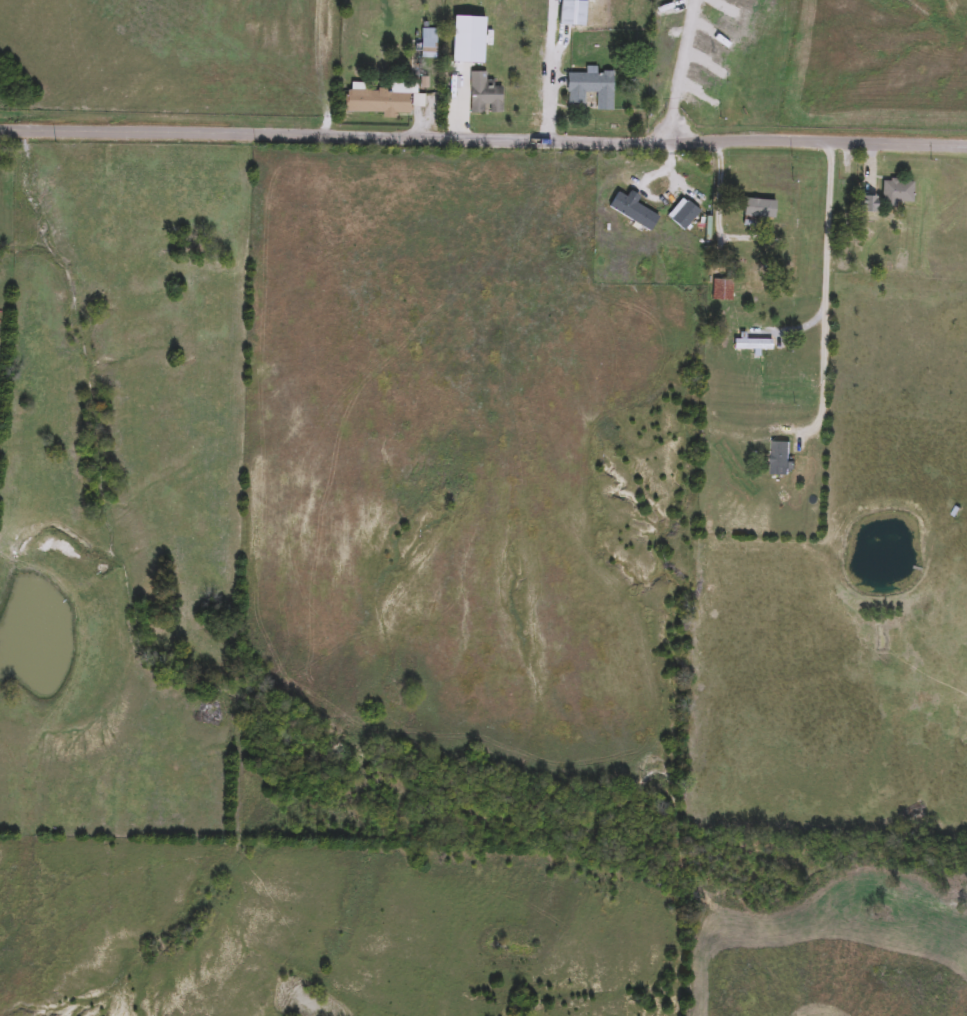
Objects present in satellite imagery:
building: (428, 44)
road: (679, 70)
road: (555, 86)
building: (590, 88)
building: (484, 95)
building: (379, 102)
road: (483, 137)
building: (897, 193)
road: (720, 207)
building: (867, 207)
building: (750, 259)
road: (825, 284)
building: (721, 291)
building: (752, 345)
building: (779, 460)

